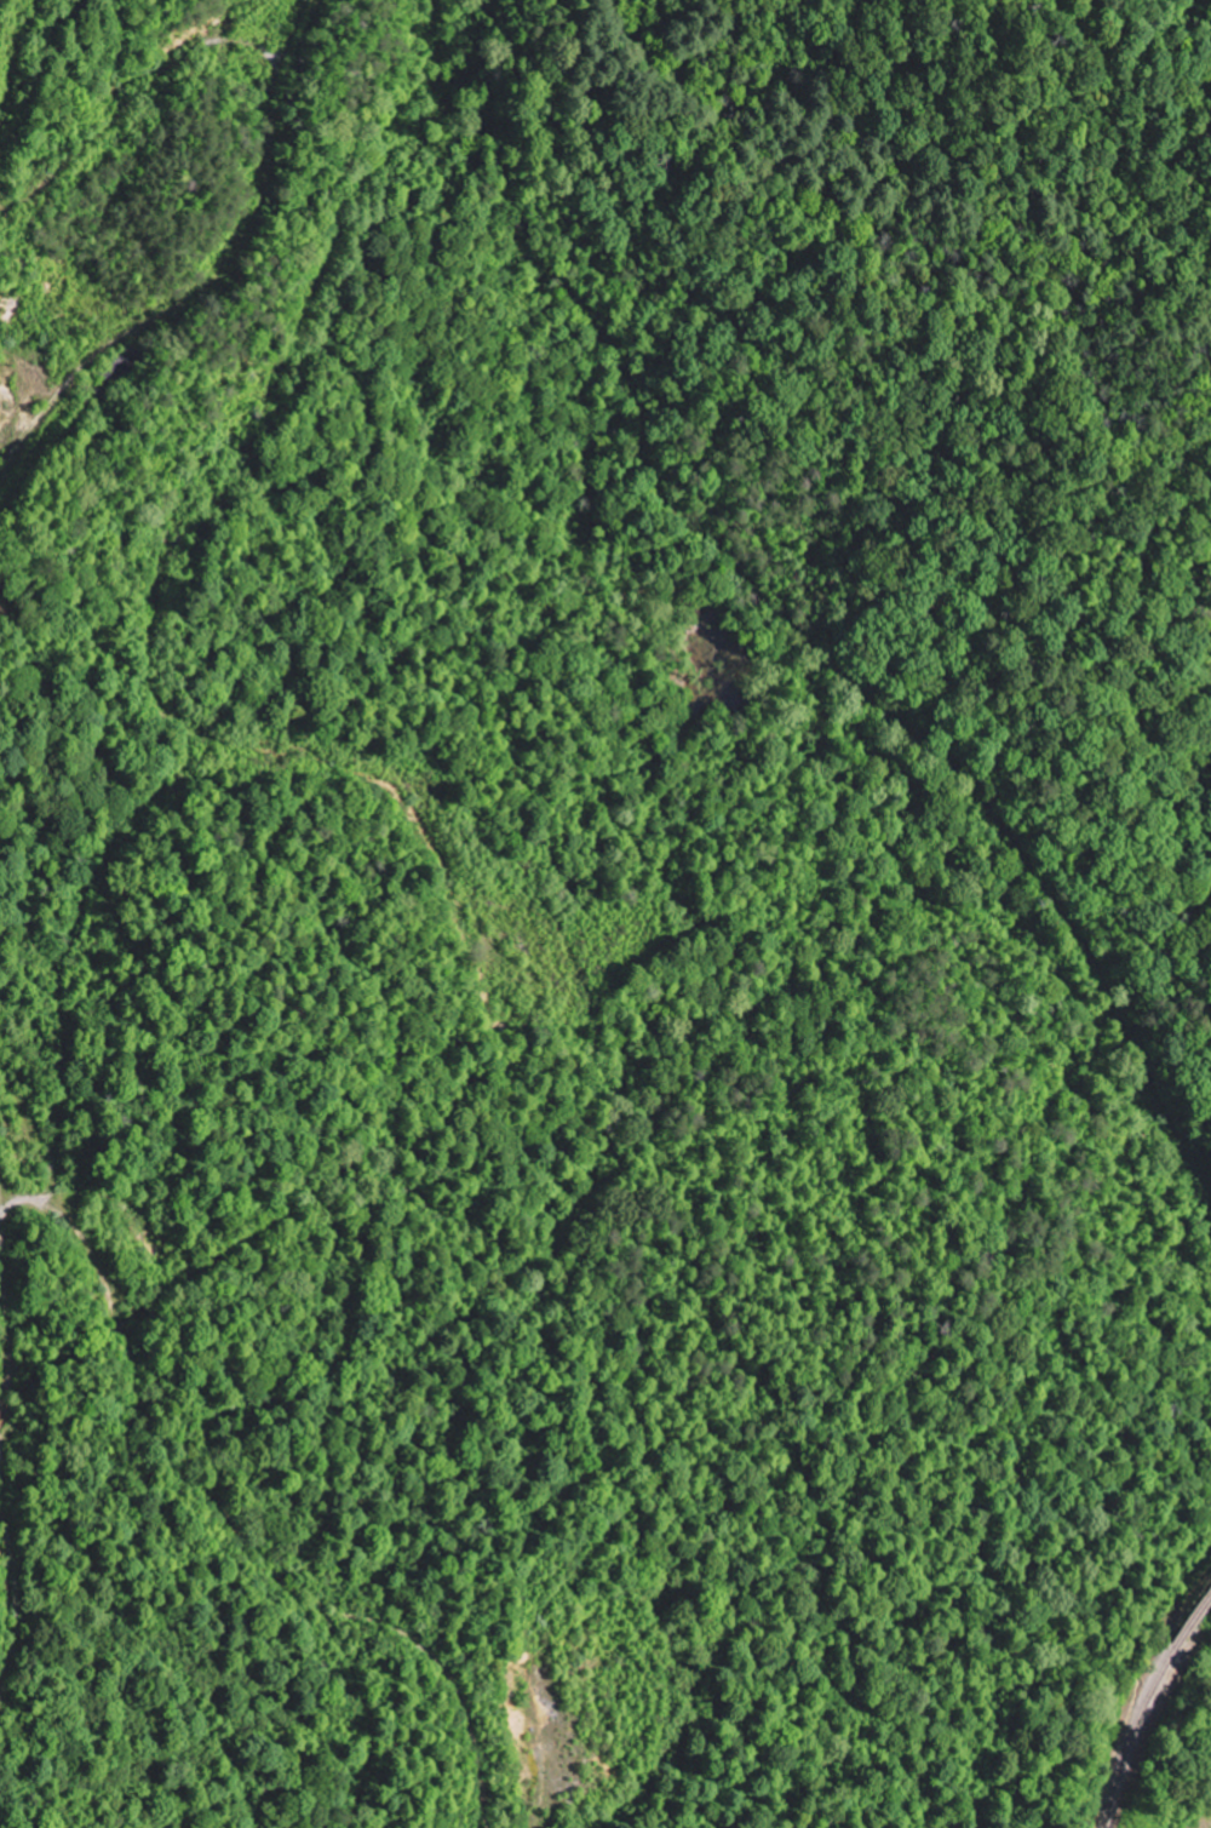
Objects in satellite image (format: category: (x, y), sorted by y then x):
road: (270, 153)
road: (1, 1204)
road: (0, 1450)
road: (167, 1454)
road: (17, 1588)
railway: (1190, 1617)
railway: (1130, 1735)

